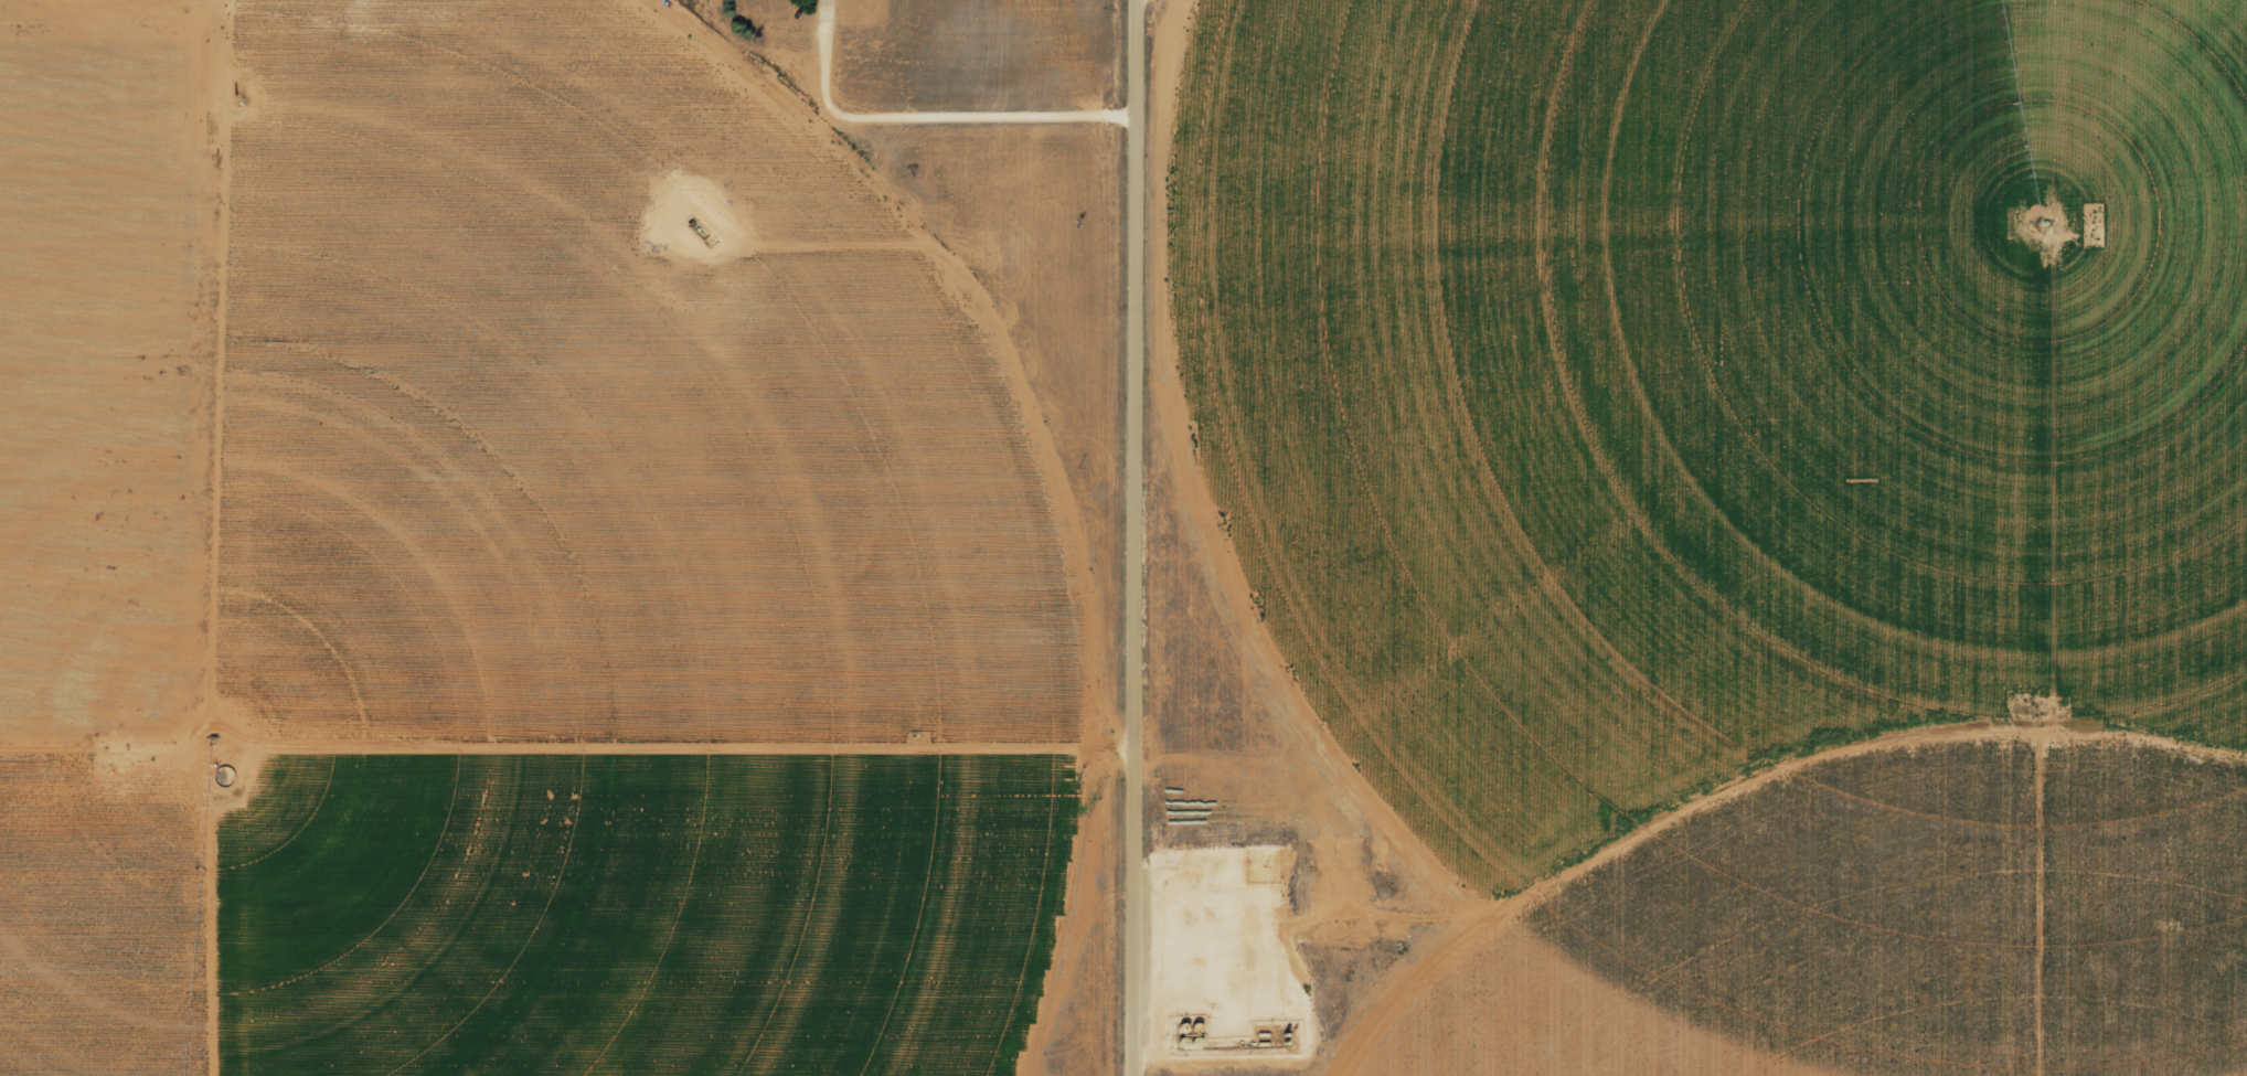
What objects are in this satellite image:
road: (1161, 827)

